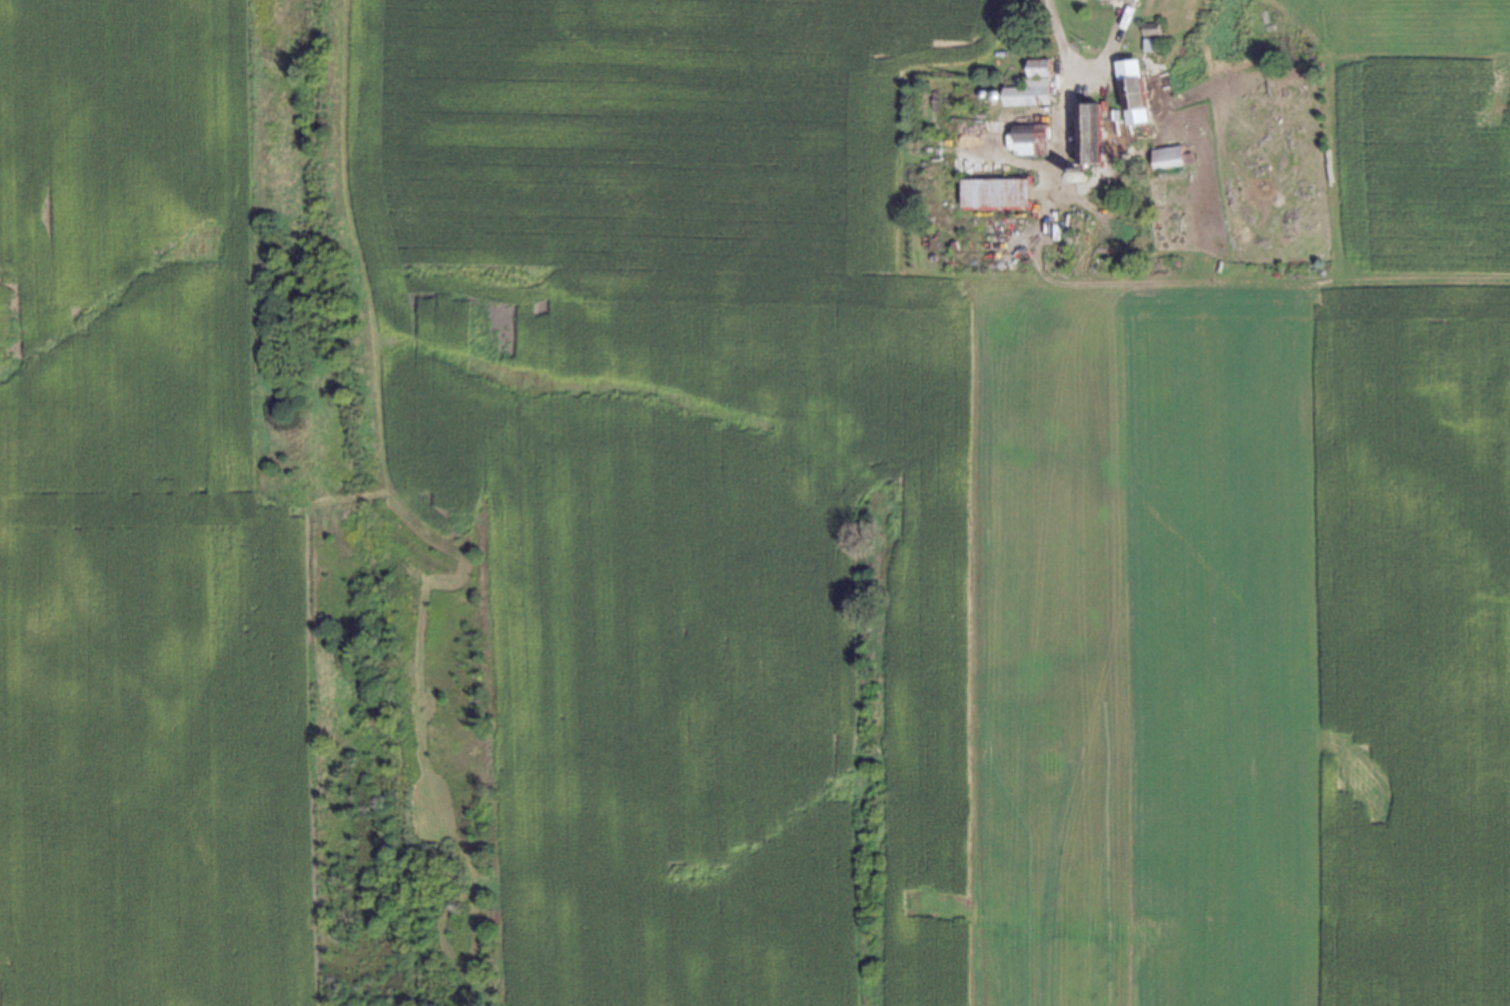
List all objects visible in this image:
building: (1129, 1)
building: (1151, 35)
building: (1037, 65)
building: (979, 90)
building: (990, 90)
building: (1130, 91)
building: (1027, 92)
road: (1061, 103)
building: (1111, 112)
building: (1088, 130)
building: (1028, 137)
building: (1166, 156)
building: (1074, 174)
building: (994, 191)

